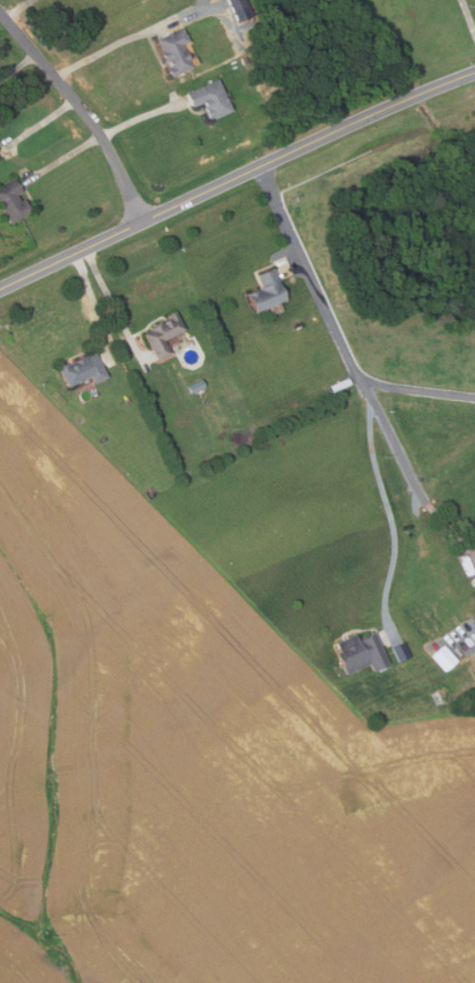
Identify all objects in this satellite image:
road: (17, 9)
building: (240, 9)
road: (469, 14)
road: (130, 38)
building: (175, 51)
road: (18, 66)
building: (210, 99)
road: (81, 108)
road: (142, 116)
road: (40, 125)
road: (64, 157)
road: (235, 173)
building: (12, 199)
road: (290, 260)
building: (267, 291)
road: (110, 297)
road: (95, 301)
building: (164, 334)
road: (354, 368)
building: (84, 369)
building: (196, 387)
road: (421, 390)
road: (390, 499)
building: (400, 651)
building: (361, 654)
building: (443, 657)
building: (472, 660)
crop: (197, 762)

